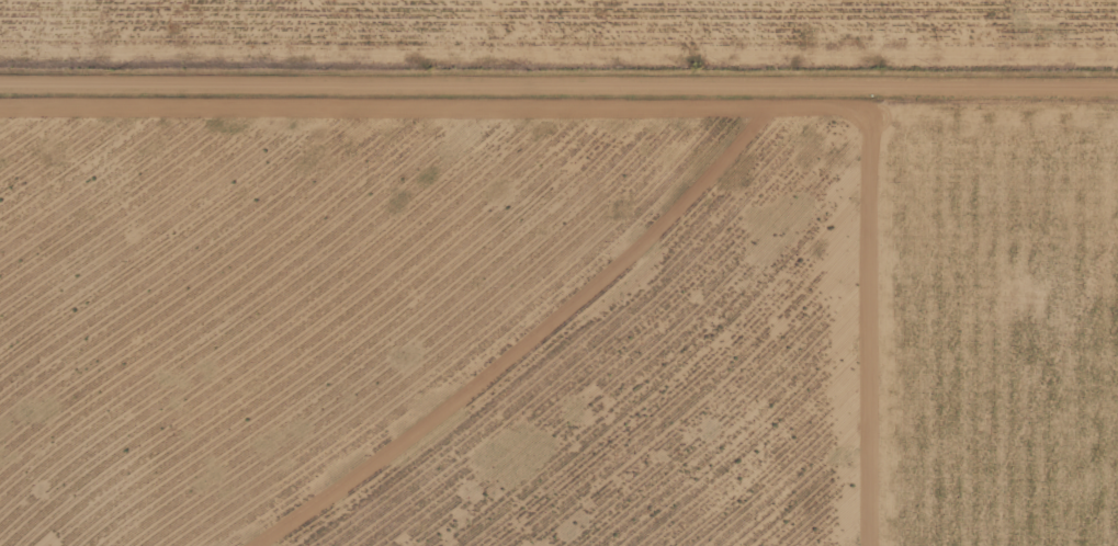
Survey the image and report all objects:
road: (558, 81)

